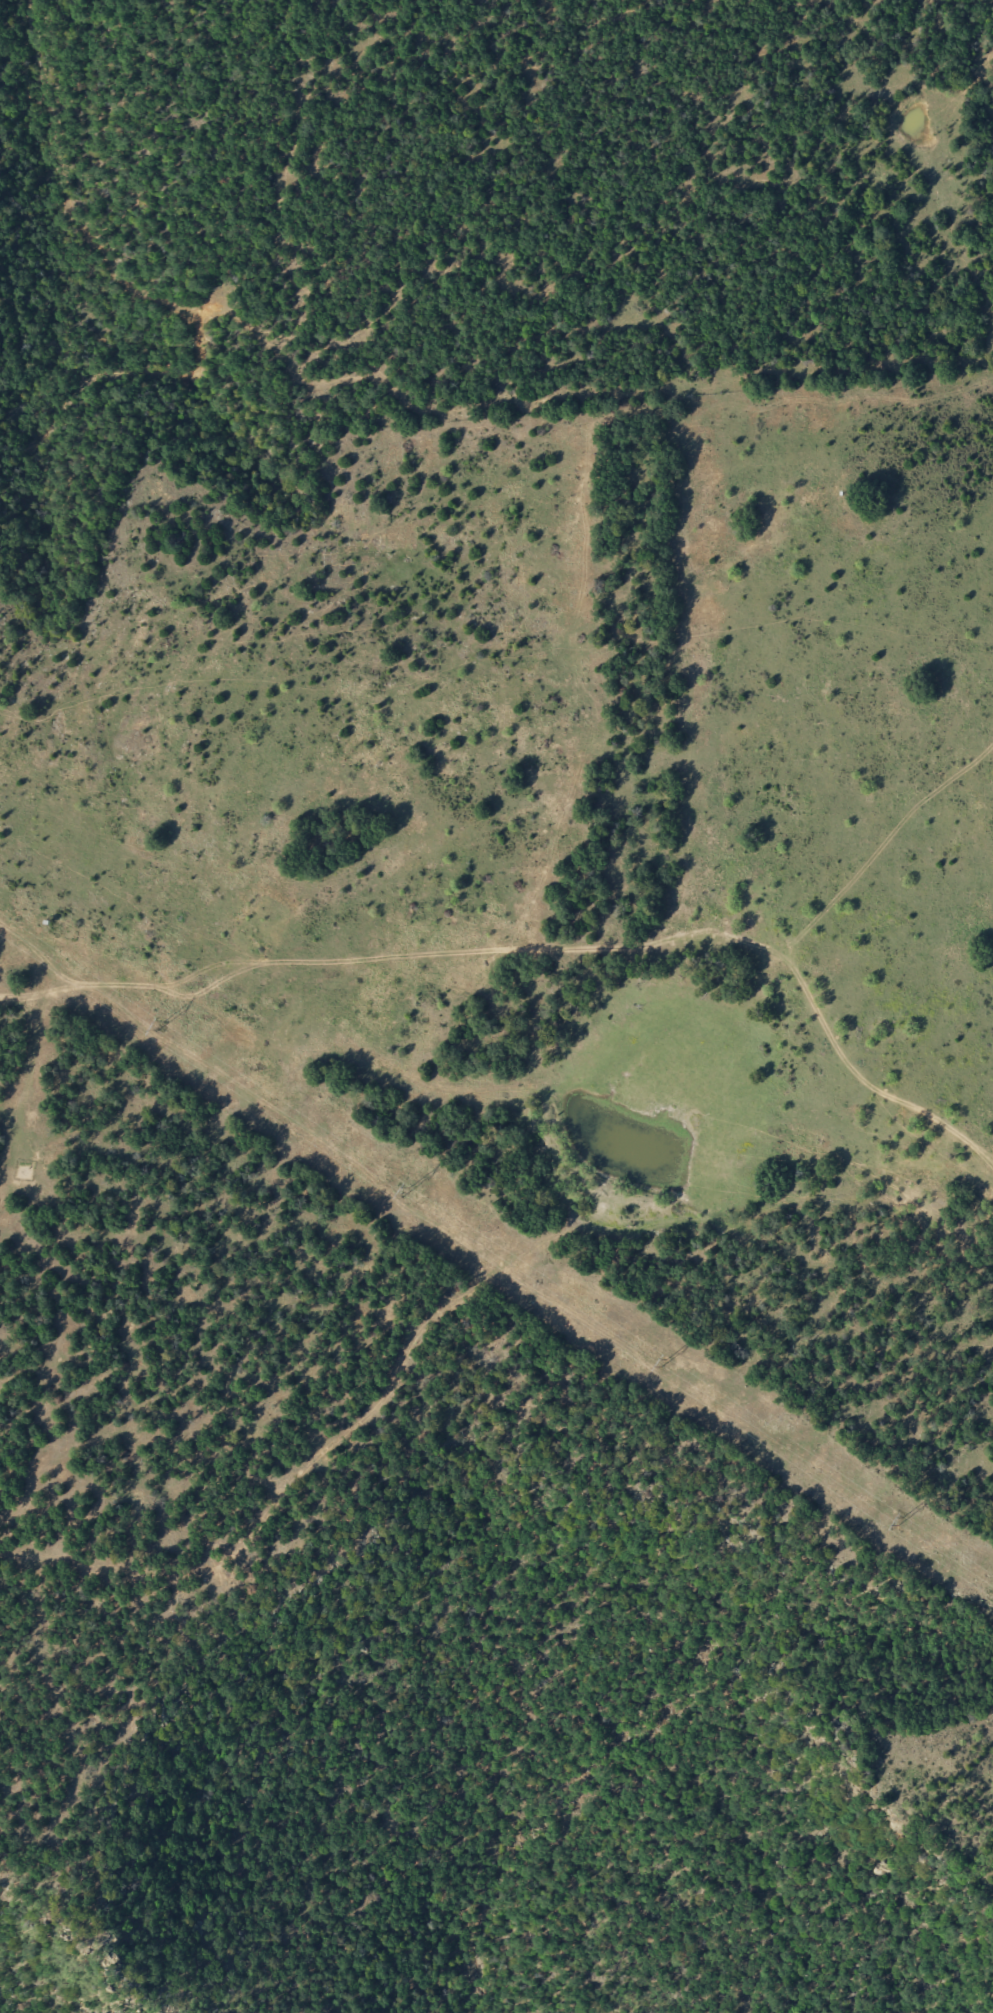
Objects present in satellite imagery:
power tower: (157, 1026)
road: (936, 1166)
power tower: (402, 1193)
power tower: (660, 1365)
power tower: (894, 1523)

